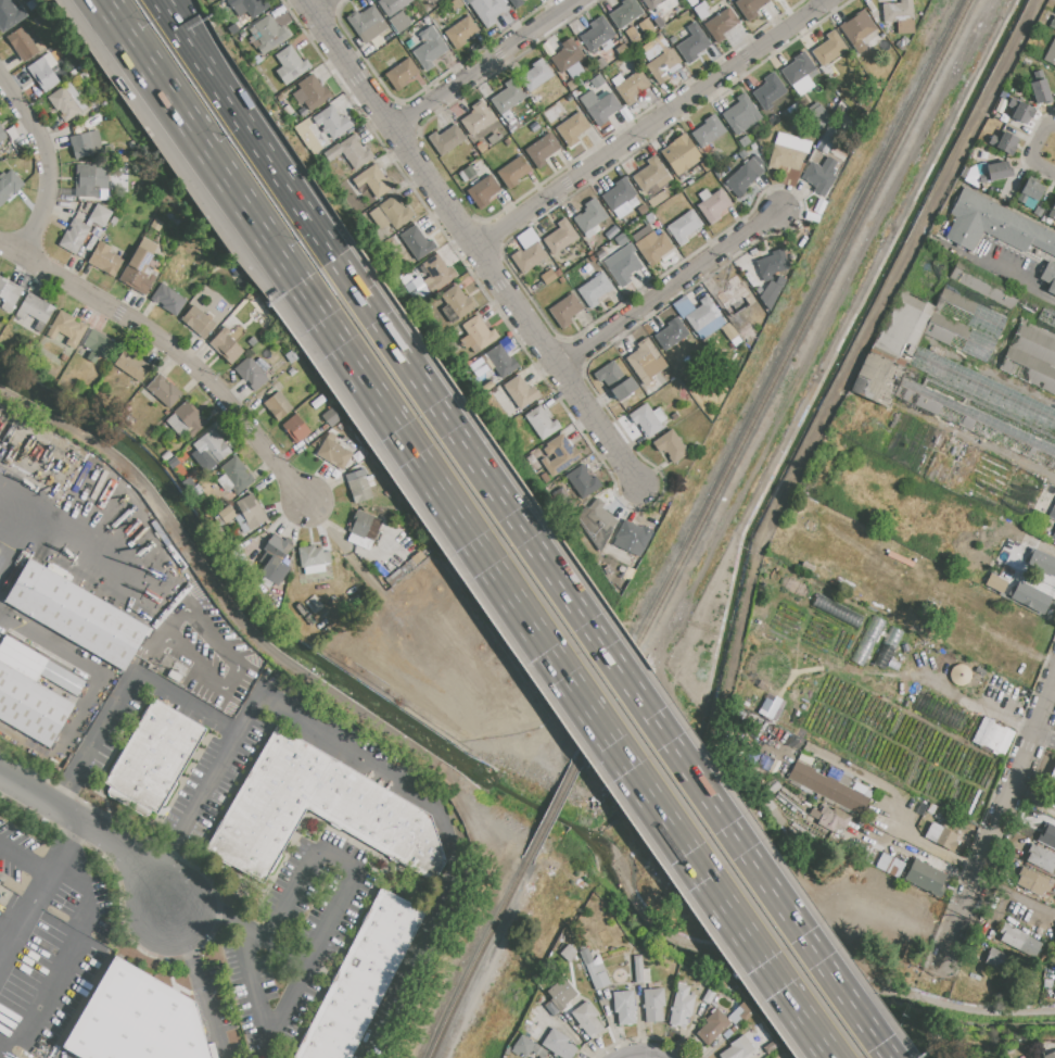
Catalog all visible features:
building: (774, 0)
building: (514, 1)
building: (691, 2)
building: (651, 3)
road: (316, 4)
building: (456, 4)
building: (392, 5)
building: (247, 7)
building: (749, 8)
building: (487, 10)
building: (624, 14)
building: (9, 15)
building: (899, 16)
building: (659, 22)
building: (1053, 23)
building: (367, 24)
building: (721, 24)
building: (857, 28)
building: (460, 33)
building: (596, 34)
building: (269, 35)
building: (635, 38)
building: (673, 40)
building: (692, 43)
building: (22, 45)
building: (429, 49)
building: (828, 49)
building: (622, 50)
building: (1051, 53)
building: (568, 56)
road: (203, 59)
road: (213, 59)
building: (662, 62)
road: (484, 64)
building: (290, 65)
building: (798, 68)
building: (43, 73)
building: (402, 73)
building: (535, 76)
building: (597, 80)
building: (571, 85)
building: (630, 86)
building: (1038, 89)
building: (768, 91)
building: (314, 92)
building: (507, 99)
building: (66, 102)
building: (599, 106)
building: (1019, 112)
building: (741, 114)
building: (816, 114)
building: (476, 118)
building: (509, 119)
building: (332, 123)
road: (649, 123)
building: (572, 128)
building: (708, 131)
building: (3, 135)
building: (307, 137)
building: (494, 138)
building: (445, 140)
building: (825, 140)
building: (743, 141)
road: (201, 142)
building: (1003, 142)
building: (792, 143)
building: (86, 144)
building: (542, 150)
road: (1033, 150)
building: (355, 151)
building: (681, 155)
building: (785, 158)
road: (39, 165)
building: (993, 169)
building: (469, 172)
building: (513, 172)
building: (652, 175)
building: (821, 175)
building: (743, 177)
building: (90, 179)
building: (373, 180)
building: (9, 185)
road: (291, 189)
building: (483, 191)
building: (619, 193)
building: (1029, 194)
building: (657, 199)
building: (713, 204)
building: (1039, 212)
building: (1052, 212)
building: (100, 215)
building: (391, 215)
building: (589, 217)
building: (155, 225)
building: (995, 225)
building: (684, 226)
building: (74, 236)
building: (560, 237)
building: (524, 238)
building: (416, 242)
road: (471, 242)
building: (653, 247)
building: (527, 256)
building: (104, 260)
building: (622, 262)
building: (772, 263)
building: (138, 272)
building: (436, 274)
building: (547, 276)
building: (1048, 276)
road: (1013, 279)
road: (668, 285)
building: (982, 288)
building: (594, 290)
building: (772, 290)
building: (732, 292)
building: (9, 294)
building: (168, 299)
building: (456, 304)
building: (1025, 305)
building: (683, 306)
building: (565, 310)
building: (35, 311)
building: (702, 313)
building: (1046, 317)
building: (199, 320)
building: (964, 325)
building: (66, 328)
building: (478, 335)
building: (672, 338)
building: (227, 345)
building: (101, 348)
building: (892, 349)
road: (170, 353)
building: (1031, 356)
building: (645, 360)
building: (499, 361)
building: (130, 365)
building: (292, 373)
building: (251, 374)
building: (615, 380)
building: (487, 386)
building: (164, 390)
building: (520, 392)
building: (493, 395)
building: (282, 401)
building: (980, 405)
building: (189, 416)
building: (331, 417)
building: (647, 419)
building: (542, 424)
building: (295, 429)
building: (212, 446)
building: (672, 446)
building: (333, 453)
building: (560, 455)
building: (237, 475)
building: (583, 482)
building: (359, 486)
building: (252, 512)
building: (1053, 513)
building: (226, 514)
road: (7, 516)
building: (602, 521)
railway: (698, 527)
building: (363, 529)
road: (7, 533)
building: (1053, 537)
building: (633, 538)
building: (313, 556)
building: (277, 559)
building: (1042, 563)
building: (995, 583)
building: (1031, 597)
building: (77, 615)
building: (893, 633)
road: (614, 659)
road: (572, 670)
road: (138, 672)
road: (1052, 694)
building: (28, 697)
road: (274, 702)
road: (1040, 735)
building: (991, 736)
road: (1050, 741)
building: (155, 754)
building: (1052, 774)
building: (828, 788)
road: (67, 791)
building: (1054, 798)
building: (319, 810)
building: (831, 819)
road: (997, 826)
road: (94, 827)
building: (941, 836)
building: (1047, 836)
road: (929, 844)
road: (72, 848)
road: (28, 858)
building: (1040, 858)
building: (888, 865)
road: (162, 870)
building: (926, 878)
building: (1033, 882)
road: (1015, 895)
road: (218, 916)
road: (270, 919)
road: (28, 922)
road: (420, 933)
building: (1018, 940)
building: (1054, 941)
road: (74, 943)
building: (568, 953)
road: (312, 955)
building: (995, 960)
building: (640, 970)
building: (597, 973)
road: (819, 973)
building: (361, 979)
railway: (479, 979)
road: (200, 981)
building: (709, 996)
building: (562, 998)
building: (653, 1005)
building: (682, 1006)
building: (624, 1007)
building: (748, 1011)
building: (136, 1019)
building: (587, 1019)
building: (712, 1026)
building: (559, 1044)
building: (522, 1046)
building: (772, 1047)
building: (738, 1048)
road: (268, 1049)
building: (1050, 1055)
road: (640, 1056)
building: (538, 1057)
building: (541, 1057)

